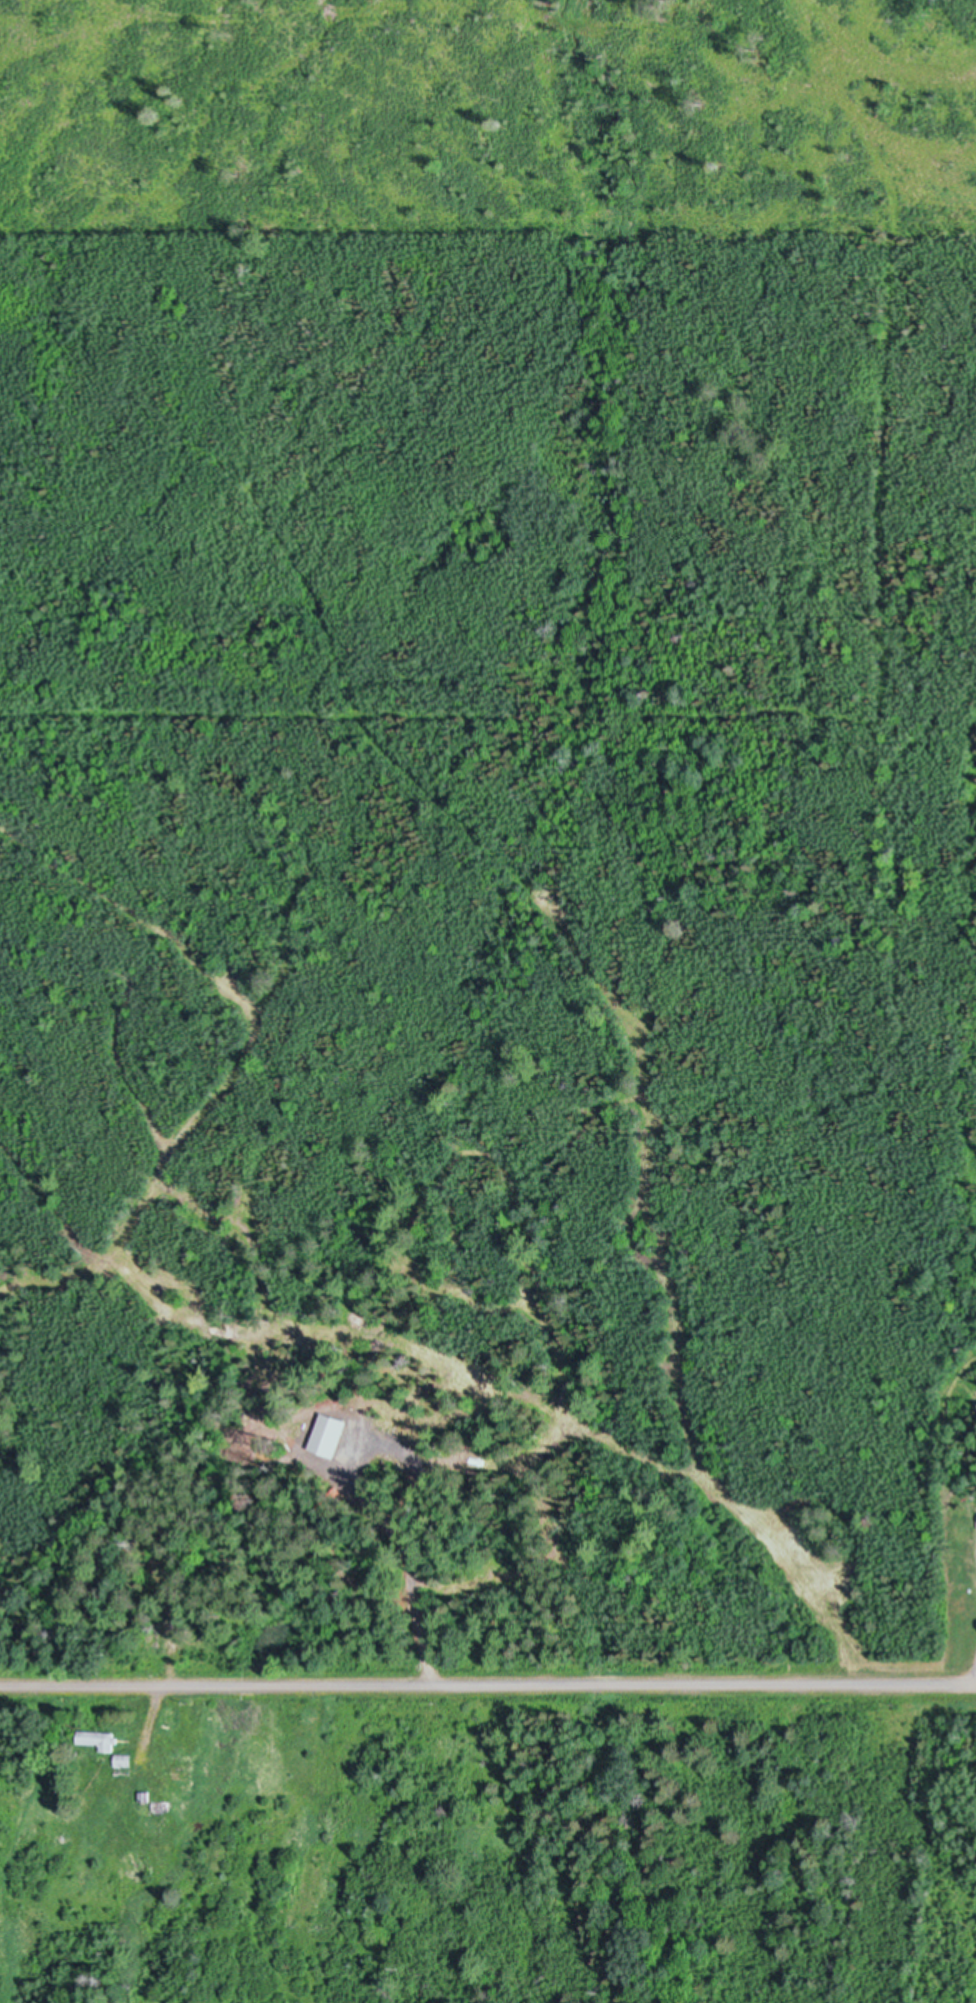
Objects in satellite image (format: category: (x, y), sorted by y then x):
road: (975, 1686)
road: (487, 1687)
building: (98, 1740)
building: (121, 1761)
building: (144, 1796)
building: (158, 1806)

